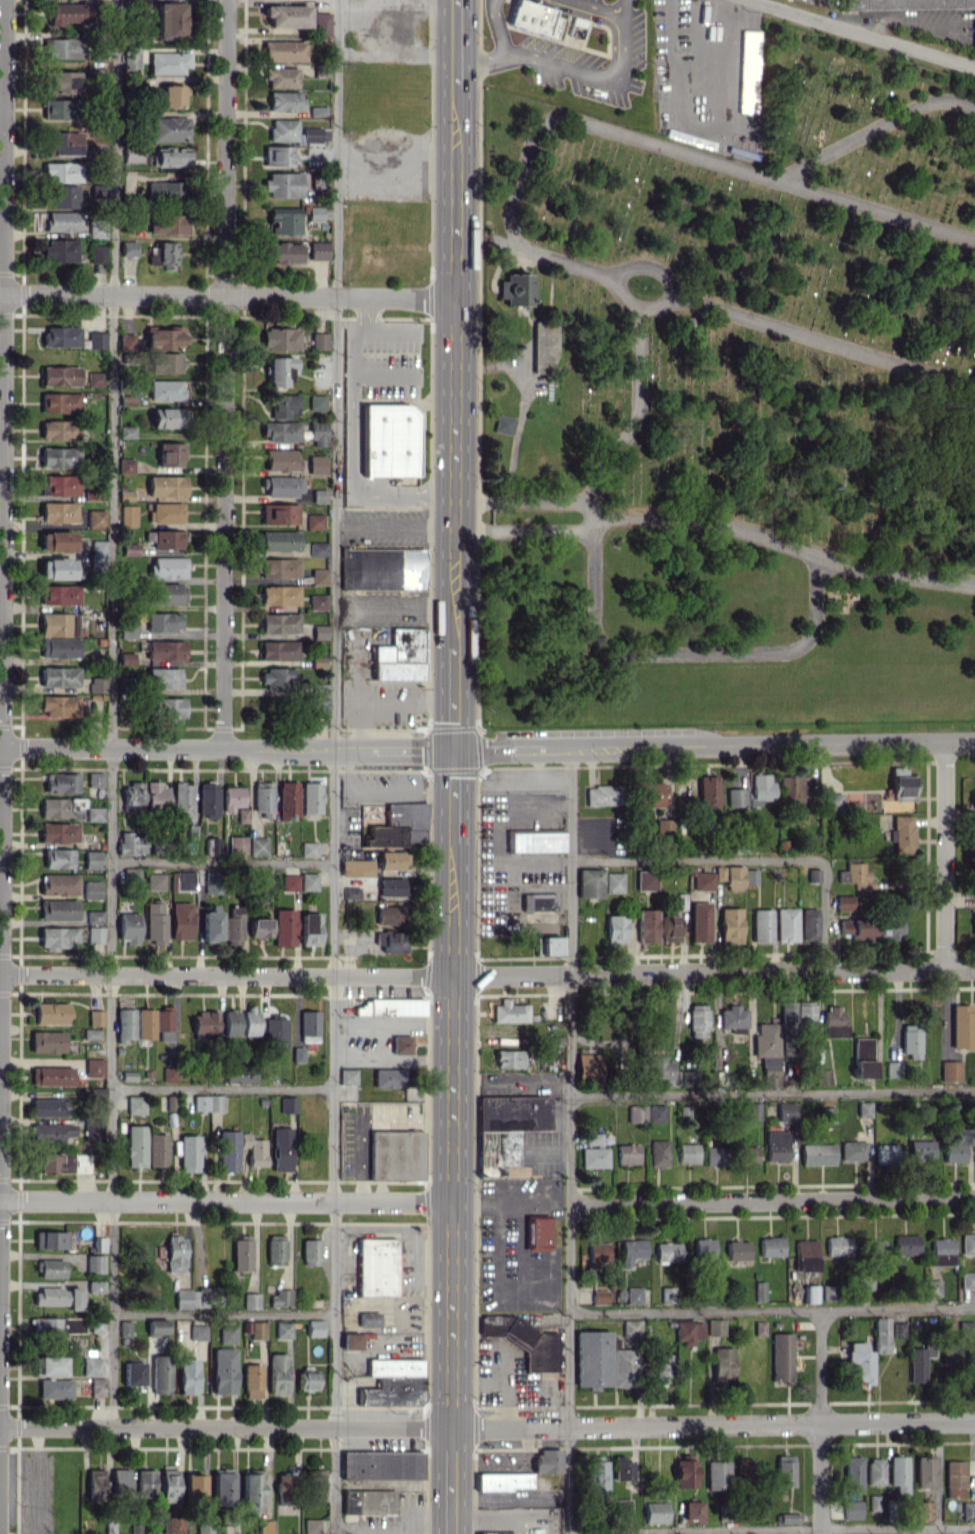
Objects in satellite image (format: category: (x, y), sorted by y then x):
building: (904, 4)
road: (617, 5)
building: (64, 14)
building: (286, 15)
building: (535, 17)
building: (170, 19)
building: (321, 23)
road: (869, 30)
building: (750, 38)
road: (456, 39)
building: (61, 47)
building: (283, 50)
building: (130, 57)
road: (478, 61)
building: (167, 62)
road: (580, 72)
building: (281, 77)
building: (61, 82)
building: (171, 96)
building: (285, 101)
building: (57, 108)
building: (168, 129)
road: (873, 129)
building: (295, 132)
building: (62, 143)
road: (225, 148)
building: (277, 155)
building: (132, 157)
building: (170, 157)
building: (61, 171)
building: (282, 184)
building: (163, 190)
building: (63, 196)
road: (514, 201)
building: (314, 213)
building: (283, 220)
building: (62, 221)
building: (166, 223)
building: (96, 229)
building: (128, 248)
building: (60, 250)
building: (317, 250)
building: (282, 252)
building: (97, 253)
building: (163, 254)
road: (655, 267)
building: (514, 289)
road: (112, 294)
road: (340, 297)
building: (61, 336)
building: (164, 338)
building: (280, 338)
road: (355, 338)
building: (96, 340)
building: (319, 340)
building: (127, 341)
building: (544, 347)
road: (455, 357)
building: (167, 362)
building: (279, 370)
road: (2, 373)
building: (60, 375)
building: (95, 379)
building: (166, 390)
building: (127, 399)
building: (60, 402)
building: (317, 402)
park: (734, 405)
building: (284, 406)
building: (168, 417)
building: (503, 424)
building: (57, 429)
building: (127, 431)
building: (281, 431)
building: (318, 433)
building: (389, 440)
building: (171, 453)
building: (59, 457)
building: (281, 460)
building: (317, 464)
building: (125, 465)
building: (59, 485)
building: (166, 485)
building: (282, 486)
road: (352, 487)
building: (319, 495)
road: (523, 502)
building: (58, 512)
building: (165, 512)
building: (279, 513)
building: (128, 515)
building: (96, 518)
building: (315, 521)
road: (224, 522)
road: (523, 530)
building: (167, 539)
building: (59, 541)
building: (279, 541)
road: (784, 542)
building: (318, 548)
building: (130, 549)
building: (98, 552)
building: (167, 567)
building: (56, 568)
building: (279, 568)
building: (382, 568)
building: (319, 576)
building: (166, 593)
building: (59, 594)
building: (279, 595)
building: (317, 601)
road: (595, 615)
building: (163, 622)
building: (279, 623)
building: (58, 624)
building: (128, 630)
building: (320, 631)
building: (59, 647)
building: (279, 649)
building: (165, 650)
building: (400, 655)
building: (58, 676)
building: (163, 678)
building: (277, 678)
building: (96, 684)
road: (455, 693)
building: (318, 705)
building: (166, 708)
road: (112, 713)
road: (715, 746)
road: (227, 749)
traffic signals: (455, 751)
road: (334, 767)
building: (94, 779)
building: (61, 782)
road: (383, 786)
building: (760, 787)
building: (901, 787)
building: (790, 789)
building: (707, 790)
road: (453, 791)
building: (131, 792)
building: (651, 793)
building: (155, 795)
building: (603, 795)
building: (232, 797)
building: (311, 797)
building: (735, 797)
building: (263, 798)
building: (208, 799)
building: (287, 799)
building: (182, 801)
building: (832, 802)
building: (94, 813)
building: (399, 825)
building: (661, 826)
building: (58, 832)
building: (902, 833)
building: (536, 841)
building: (130, 843)
building: (236, 845)
building: (258, 845)
building: (213, 846)
building: (309, 849)
road: (943, 855)
building: (58, 858)
building: (92, 859)
building: (393, 860)
road: (697, 860)
road: (223, 861)
building: (356, 867)
building: (719, 873)
building: (856, 874)
building: (749, 876)
building: (733, 877)
building: (645, 879)
building: (182, 880)
building: (702, 880)
building: (155, 881)
building: (309, 881)
building: (211, 882)
building: (289, 882)
building: (589, 882)
building: (613, 882)
building: (58, 884)
building: (391, 886)
building: (91, 889)
building: (351, 892)
building: (538, 901)
building: (848, 902)
road: (452, 904)
building: (58, 909)
building: (388, 915)
road: (823, 915)
building: (94, 916)
building: (180, 920)
building: (699, 921)
building: (155, 923)
building: (211, 923)
building: (729, 924)
building: (785, 924)
building: (808, 924)
building: (973, 924)
building: (233, 925)
building: (646, 925)
building: (761, 925)
building: (890, 926)
building: (128, 927)
building: (259, 927)
building: (284, 927)
building: (615, 928)
building: (309, 929)
building: (670, 929)
building: (854, 929)
building: (95, 934)
building: (57, 937)
building: (391, 941)
building: (547, 946)
road: (487, 976)
building: (509, 1011)
building: (787, 1012)
building: (806, 1012)
building: (51, 1013)
building: (95, 1017)
building: (732, 1017)
building: (250, 1020)
building: (697, 1021)
building: (833, 1021)
building: (204, 1022)
building: (231, 1022)
building: (154, 1023)
building: (308, 1023)
building: (124, 1024)
building: (962, 1026)
building: (275, 1034)
building: (47, 1041)
building: (910, 1041)
building: (401, 1044)
building: (767, 1052)
building: (297, 1054)
building: (507, 1058)
building: (862, 1058)
building: (588, 1066)
building: (93, 1067)
building: (892, 1069)
building: (663, 1070)
building: (950, 1070)
building: (236, 1073)
building: (169, 1074)
building: (50, 1075)
building: (347, 1076)
building: (821, 1076)
building: (389, 1077)
road: (222, 1088)
road: (452, 1088)
road: (772, 1093)
building: (207, 1102)
building: (135, 1104)
building: (287, 1104)
building: (48, 1107)
building: (863, 1109)
building: (753, 1110)
building: (786, 1112)
building: (636, 1113)
building: (655, 1113)
building: (506, 1128)
building: (51, 1132)
building: (593, 1139)
road: (570, 1141)
building: (135, 1145)
building: (776, 1145)
building: (956, 1148)
building: (253, 1149)
building: (280, 1149)
building: (921, 1149)
building: (157, 1150)
building: (853, 1150)
building: (228, 1151)
building: (659, 1152)
building: (687, 1152)
building: (188, 1153)
building: (627, 1153)
building: (885, 1153)
building: (395, 1154)
building: (748, 1154)
building: (817, 1154)
building: (714, 1156)
building: (594, 1157)
building: (64, 1163)
road: (502, 1200)
road: (773, 1200)
road: (225, 1201)
building: (537, 1233)
building: (49, 1239)
building: (967, 1243)
building: (906, 1244)
building: (838, 1245)
building: (770, 1246)
building: (876, 1246)
building: (704, 1247)
building: (805, 1248)
building: (275, 1249)
building: (632, 1250)
building: (737, 1250)
building: (667, 1251)
building: (941, 1251)
building: (310, 1252)
building: (174, 1253)
building: (241, 1253)
building: (598, 1254)
building: (94, 1263)
building: (805, 1264)
building: (376, 1266)
building: (49, 1268)
building: (967, 1280)
building: (866, 1282)
building: (94, 1286)
building: (931, 1287)
building: (759, 1291)
building: (827, 1292)
building: (810, 1293)
building: (667, 1294)
building: (634, 1295)
building: (58, 1296)
building: (599, 1296)
building: (281, 1297)
building: (251, 1300)
road: (772, 1311)
road: (451, 1314)
road: (222, 1315)
building: (368, 1319)
building: (96, 1325)
building: (57, 1326)
building: (156, 1326)
building: (314, 1327)
building: (630, 1327)
building: (715, 1327)
building: (965, 1328)
building: (283, 1329)
building: (898, 1329)
building: (257, 1330)
building: (197, 1331)
building: (687, 1332)
building: (227, 1334)
building: (880, 1335)
building: (523, 1340)
building: (350, 1341)
building: (950, 1353)
building: (781, 1357)
building: (592, 1359)
building: (722, 1361)
building: (860, 1362)
building: (918, 1363)
building: (50, 1365)
building: (91, 1366)
building: (393, 1366)
building: (623, 1367)
building: (662, 1369)
building: (223, 1370)
building: (132, 1373)
building: (160, 1374)
building: (277, 1374)
building: (187, 1376)
building: (252, 1380)
building: (306, 1380)
building: (96, 1386)
building: (54, 1388)
building: (392, 1391)
road: (819, 1422)
road: (487, 1426)
road: (451, 1438)
building: (547, 1460)
building: (380, 1464)
building: (622, 1467)
building: (784, 1470)
building: (874, 1471)
building: (924, 1471)
building: (684, 1473)
building: (897, 1473)
building: (852, 1474)
building: (597, 1475)
building: (717, 1475)
building: (953, 1478)
building: (120, 1480)
building: (503, 1481)
building: (145, 1483)
building: (313, 1484)
building: (96, 1485)
building: (168, 1485)
building: (194, 1485)
building: (222, 1487)
building: (285, 1489)
road: (451, 1491)
building: (250, 1493)
building: (368, 1501)
building: (622, 1507)
building: (851, 1509)
building: (693, 1510)
building: (923, 1510)
building: (967, 1510)
building: (655, 1512)
building: (172, 1525)
building: (311, 1526)
building: (265, 1527)
road: (771, 1529)
road: (486, 1530)
road: (944, 1530)
building: (496, 1533)

